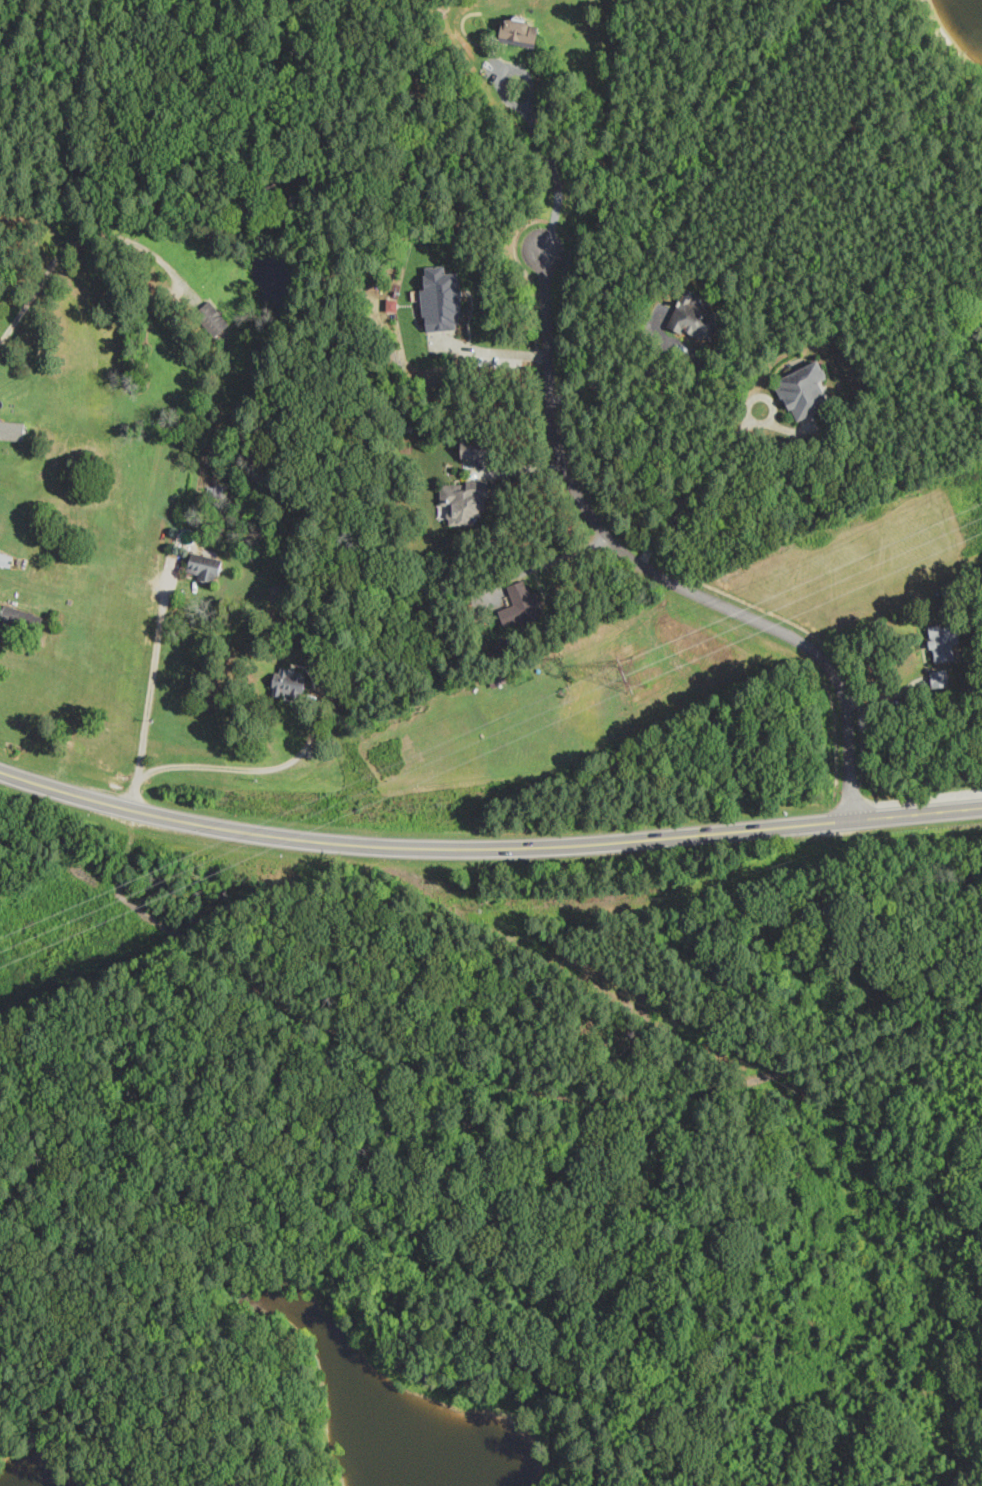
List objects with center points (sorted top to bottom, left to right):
building: (523, 32)
road: (553, 164)
road: (893, 169)
road: (139, 244)
road: (37, 289)
building: (444, 298)
building: (395, 305)
building: (701, 314)
building: (214, 319)
road: (497, 351)
building: (254, 368)
road: (623, 378)
building: (809, 389)
road: (759, 396)
road: (778, 399)
building: (12, 429)
building: (477, 448)
road: (720, 463)
road: (523, 472)
building: (217, 491)
building: (468, 500)
road: (564, 557)
building: (7, 560)
road: (184, 564)
building: (207, 567)
road: (653, 570)
road: (186, 575)
road: (541, 586)
building: (523, 604)
building: (20, 619)
building: (945, 642)
road: (926, 659)
building: (943, 679)
building: (291, 683)
power tower: (640, 683)
road: (151, 686)
road: (315, 688)
road: (891, 695)
road: (250, 768)
road: (887, 815)
road: (393, 844)
road: (470, 1082)

